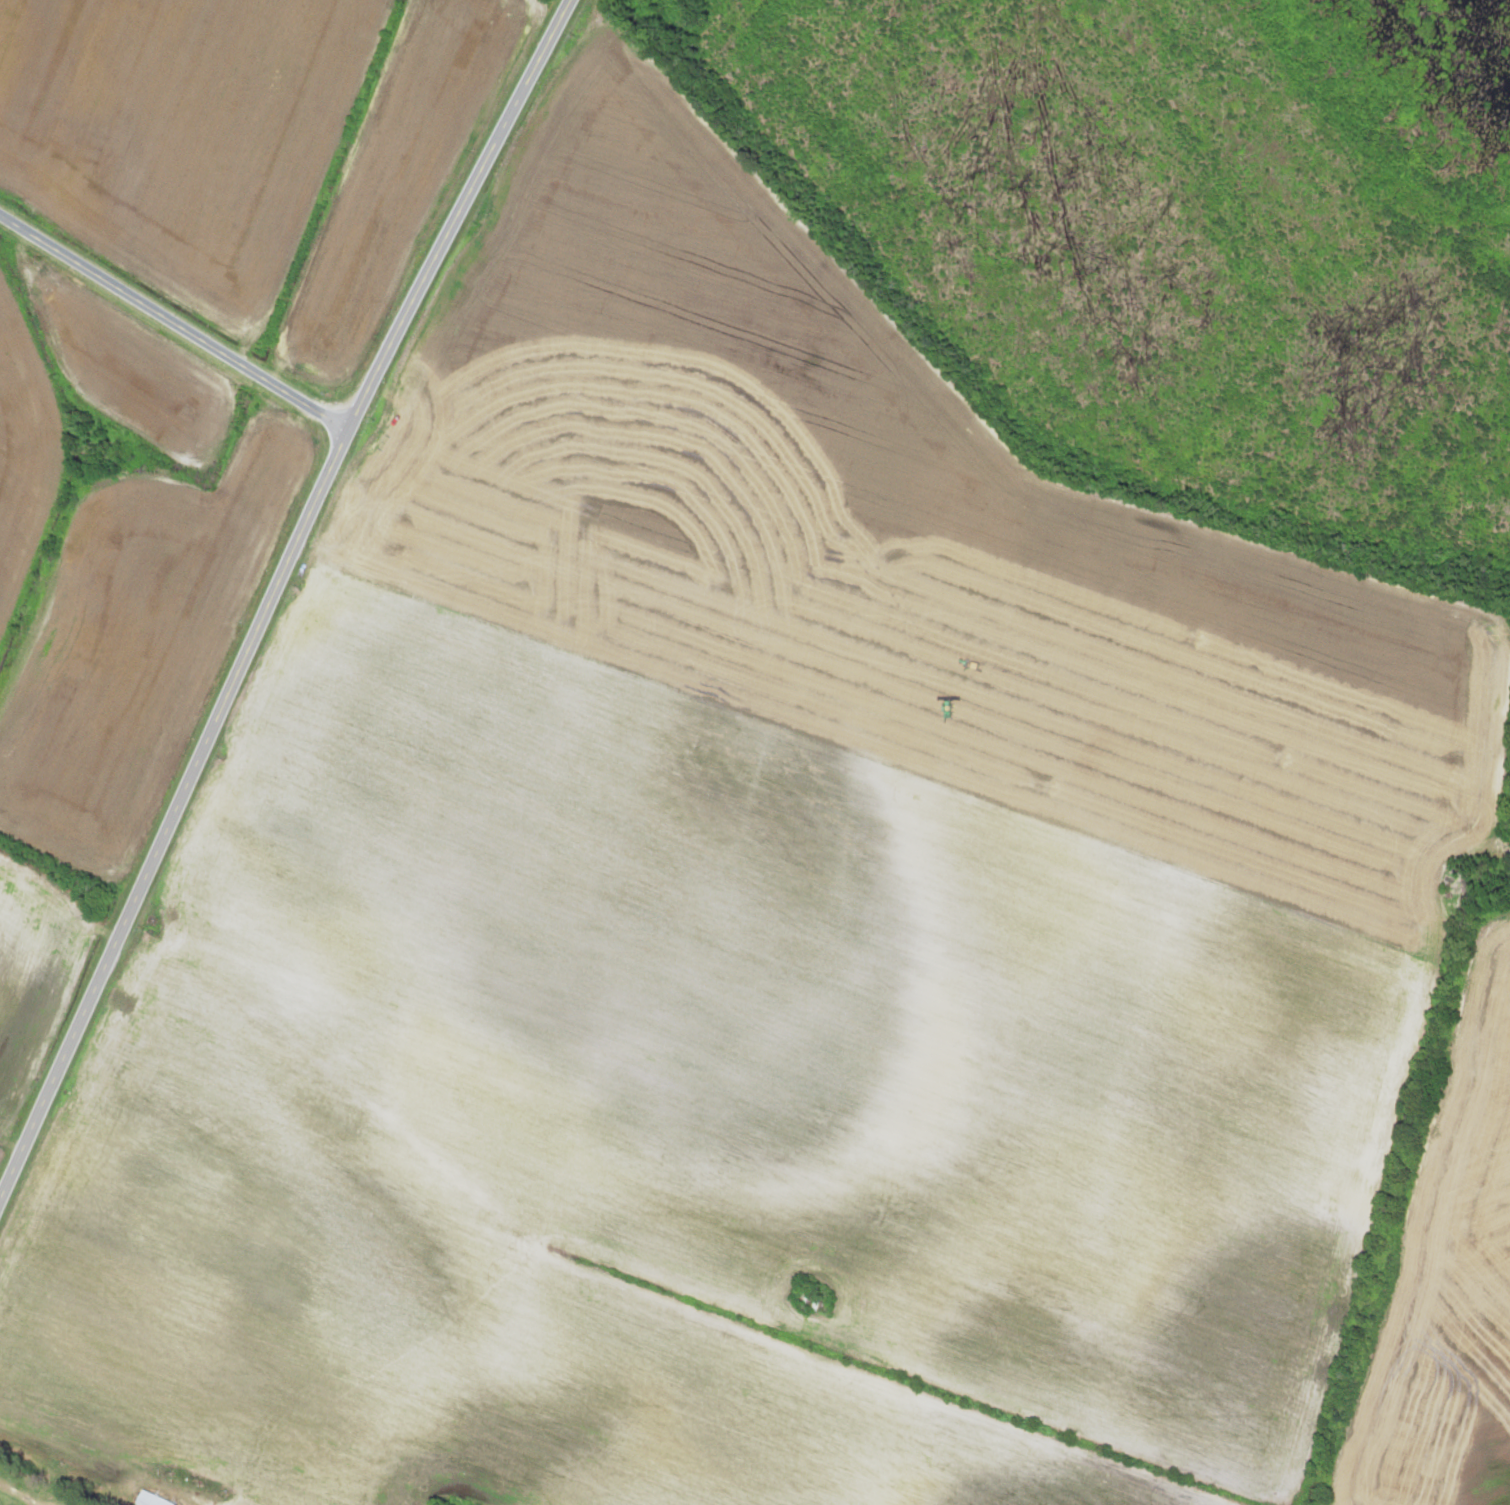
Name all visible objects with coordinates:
road: (174, 325)
road: (275, 597)
building: (146, 1500)

